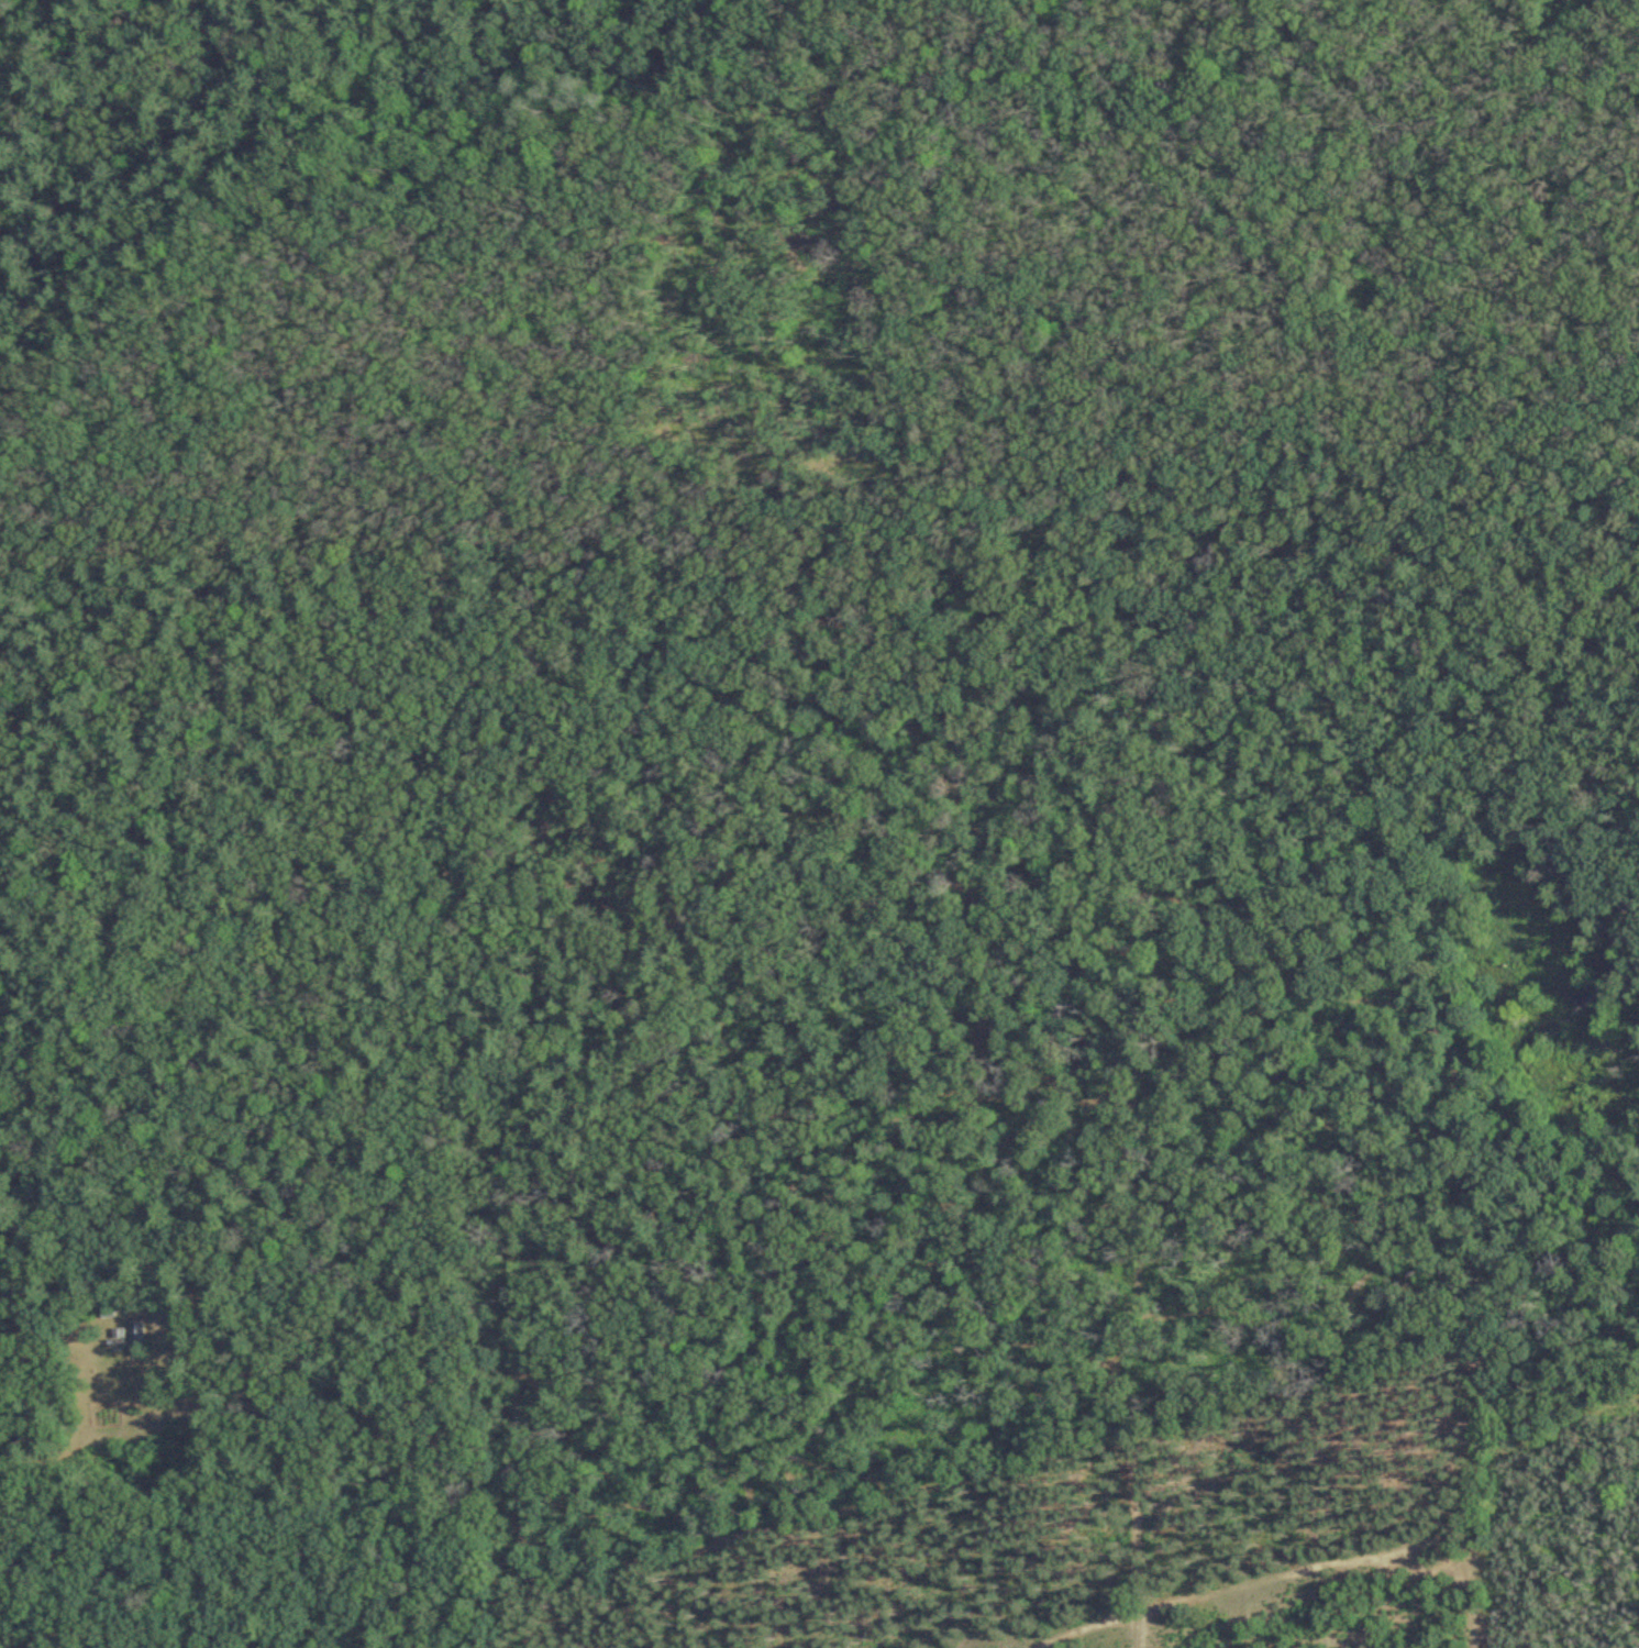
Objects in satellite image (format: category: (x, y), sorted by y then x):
building: (135, 1341)

